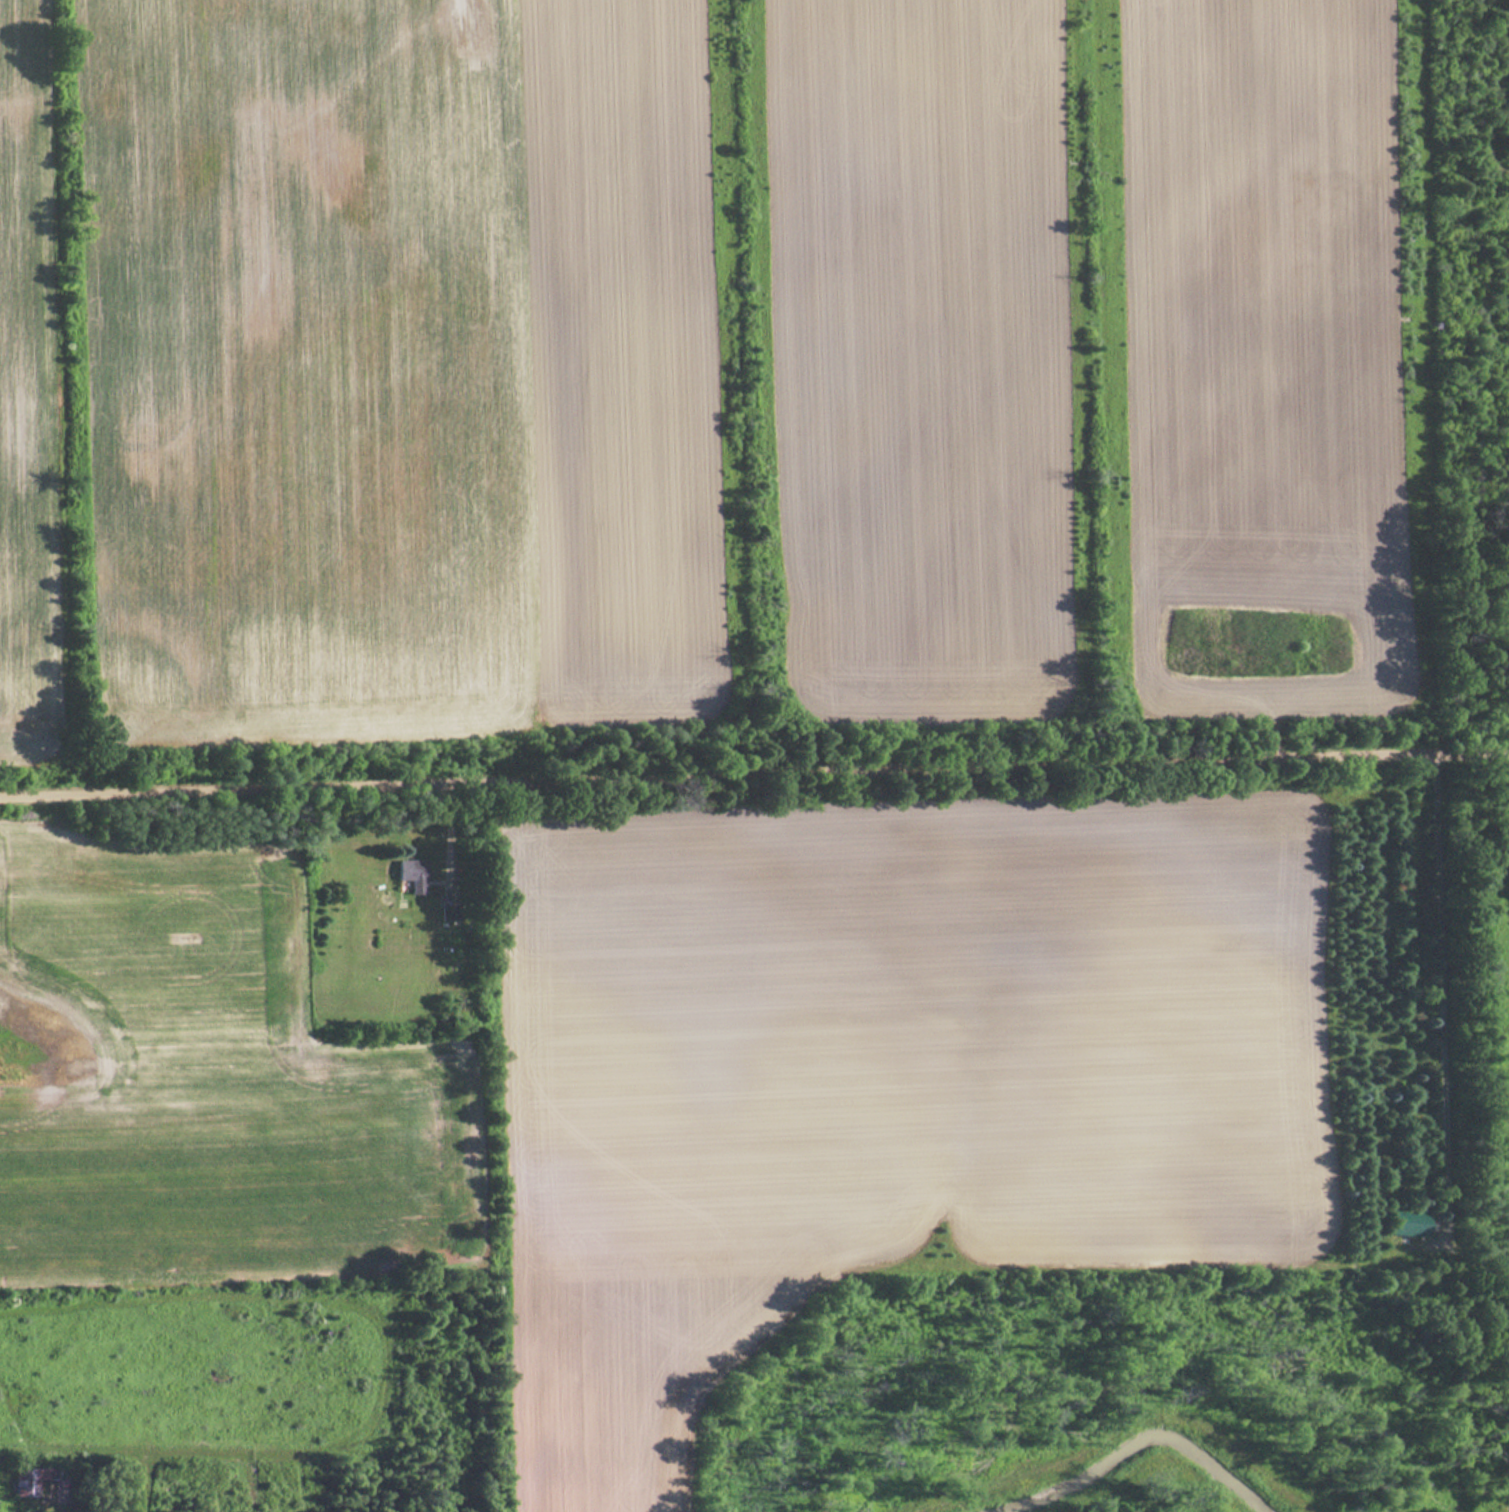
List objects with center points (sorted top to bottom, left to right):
road: (754, 781)
building: (411, 875)
building: (449, 912)
building: (1406, 1224)
river: (1145, 1443)
building: (32, 1481)

